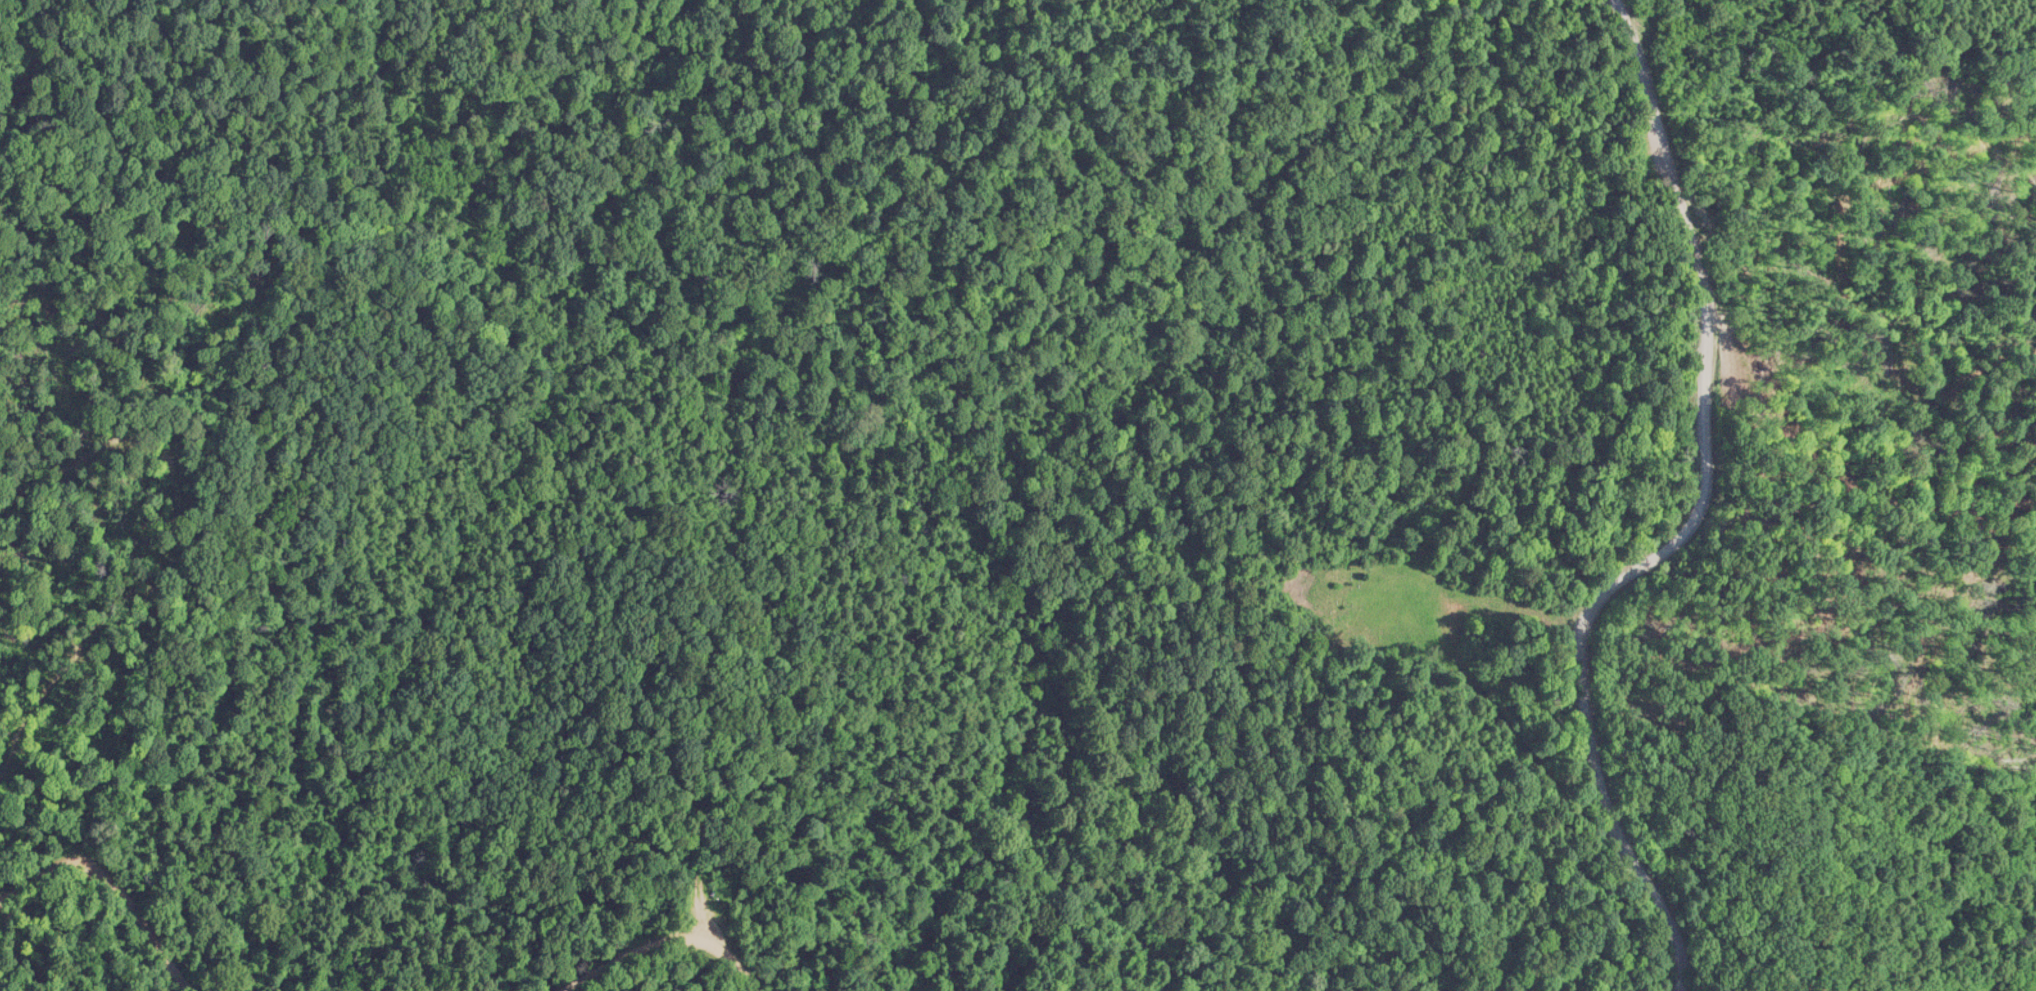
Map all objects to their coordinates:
road: (1621, 30)
road: (1684, 220)
road: (1582, 671)
road: (363, 984)

